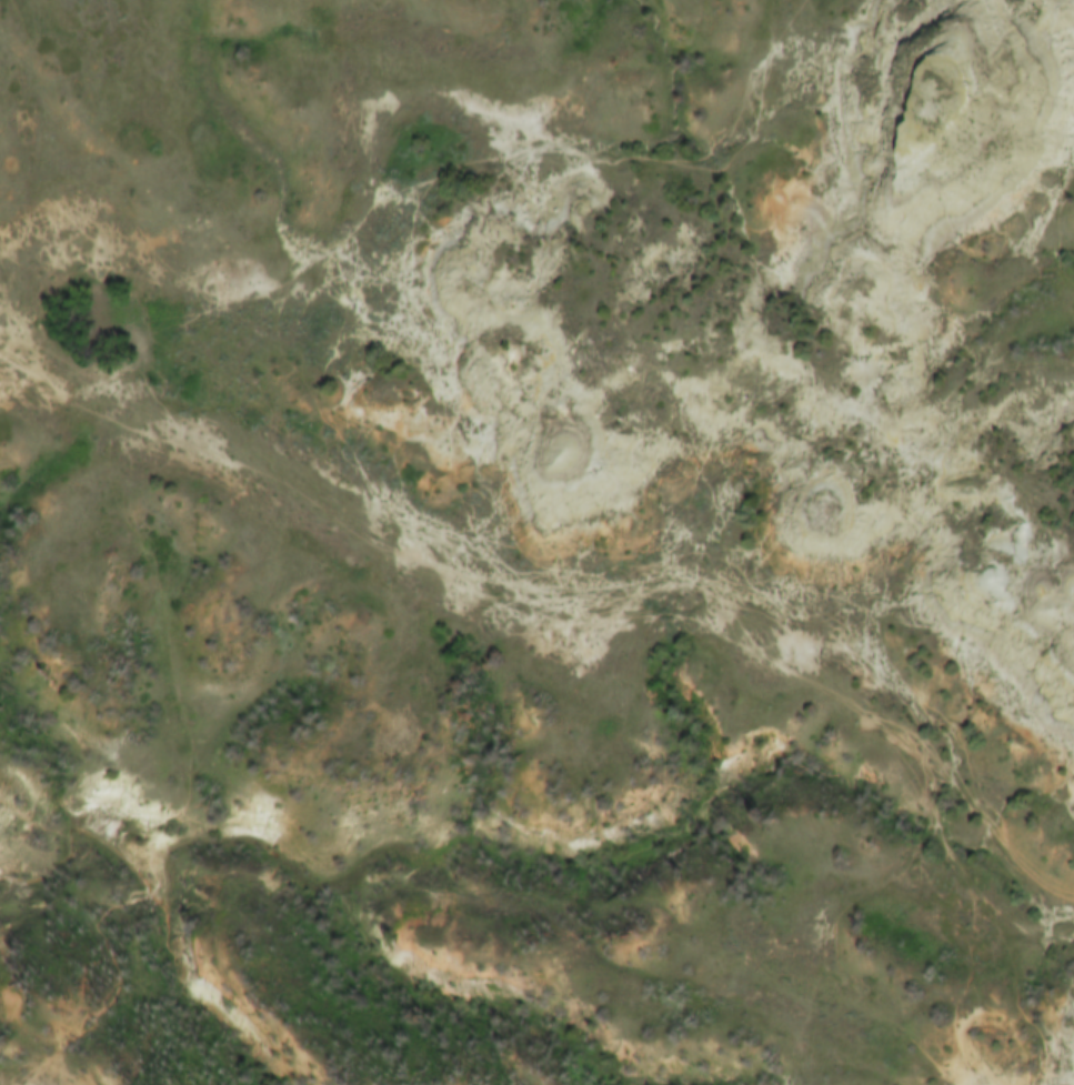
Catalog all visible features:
road: (559, 617)

